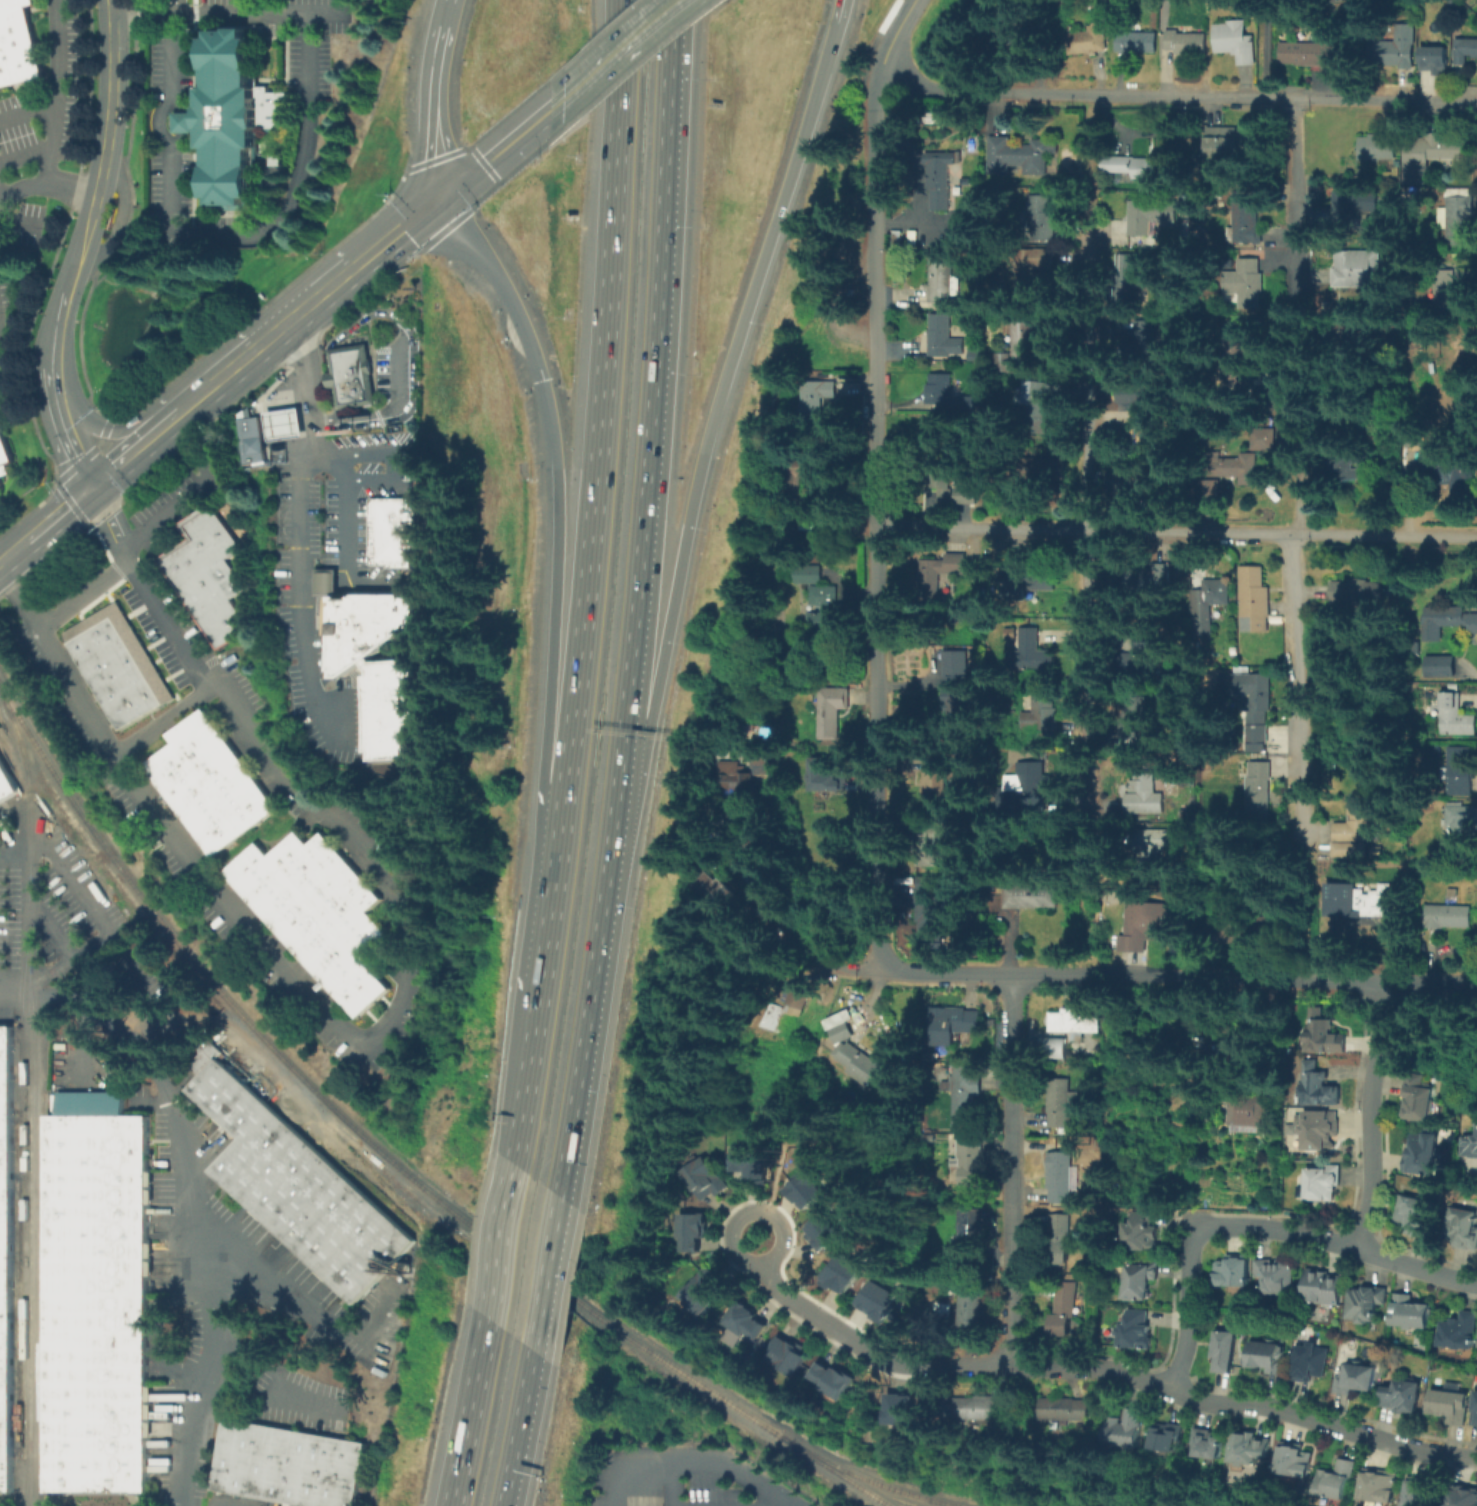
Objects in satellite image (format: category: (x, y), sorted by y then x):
building: (1336, 1)
road: (176, 6)
road: (445, 10)
road: (228, 13)
road: (837, 14)
road: (651, 23)
road: (898, 29)
building: (1090, 40)
building: (1007, 41)
building: (1188, 42)
building: (1238, 42)
road: (831, 43)
building: (1140, 44)
building: (18, 45)
road: (1269, 49)
road: (617, 52)
building: (1466, 52)
building: (1394, 54)
building: (1315, 56)
road: (174, 57)
building: (1435, 61)
road: (579, 84)
road: (1177, 96)
road: (180, 106)
road: (431, 109)
road: (28, 112)
road: (56, 116)
building: (234, 118)
building: (937, 120)
road: (161, 123)
parking lot: (164, 123)
road: (187, 123)
road: (180, 139)
building: (1232, 142)
building: (1379, 148)
building: (1431, 154)
road: (493, 155)
building: (1020, 158)
building: (1143, 167)
building: (941, 180)
road: (22, 188)
road: (1, 197)
traffic signals: (439, 197)
building: (1357, 205)
road: (95, 207)
road: (118, 215)
road: (285, 215)
building: (1153, 216)
building: (1044, 218)
building: (1460, 218)
building: (1249, 219)
road: (20, 223)
road: (397, 231)
building: (897, 242)
road: (1296, 244)
building: (1130, 269)
building: (1361, 269)
building: (1036, 271)
building: (944, 282)
building: (1248, 284)
building: (1454, 295)
road: (364, 320)
building: (972, 322)
road: (266, 337)
building: (1148, 338)
building: (945, 339)
building: (1356, 340)
building: (1020, 351)
building: (976, 357)
building: (1238, 364)
road: (308, 372)
building: (352, 376)
parking lot: (400, 376)
road: (335, 378)
building: (939, 388)
building: (816, 402)
building: (1139, 402)
building: (966, 404)
building: (1038, 407)
road: (399, 409)
road: (272, 413)
road: (341, 416)
road: (652, 417)
road: (294, 421)
building: (284, 423)
gas station: (284, 423)
road: (120, 428)
road: (286, 434)
building: (1415, 436)
building: (252, 441)
road: (705, 441)
road: (77, 448)
road: (135, 449)
building: (3, 454)
building: (1249, 458)
road: (1297, 460)
building: (1353, 468)
building: (1045, 471)
road: (339, 474)
building: (1449, 475)
building: (0, 482)
building: (793, 482)
building: (944, 484)
building: (0, 486)
building: (1128, 486)
traffic signals: (92, 487)
road: (190, 491)
road: (875, 511)
road: (58, 513)
road: (1085, 515)
traffic signals: (561, 522)
road: (109, 525)
road: (1176, 528)
building: (396, 533)
road: (12, 551)
building: (800, 573)
building: (209, 576)
building: (939, 578)
building: (1033, 579)
building: (1155, 581)
road: (309, 582)
road: (328, 583)
road: (590, 583)
road: (345, 584)
road: (300, 588)
building: (1356, 592)
building: (1256, 593)
road: (83, 596)
building: (1211, 602)
parking lot: (300, 603)
building: (824, 611)
building: (1448, 623)
building: (1015, 637)
road: (555, 647)
building: (1034, 655)
building: (1145, 661)
building: (378, 665)
building: (120, 666)
building: (1443, 668)
building: (959, 687)
road: (1295, 691)
building: (1257, 704)
building: (832, 713)
building: (1044, 715)
building: (1458, 716)
building: (1138, 719)
road: (166, 722)
building: (768, 757)
building: (1463, 773)
building: (828, 778)
building: (938, 778)
building: (742, 782)
building: (7, 784)
building: (212, 786)
building: (1258, 787)
building: (1029, 788)
building: (1147, 798)
building: (1462, 819)
building: (1355, 835)
building: (935, 844)
building: (1151, 845)
road: (70, 876)
building: (722, 896)
building: (1032, 898)
building: (1363, 902)
building: (930, 906)
building: (320, 914)
road: (1296, 914)
building: (1450, 918)
building: (1235, 921)
building: (1149, 925)
road: (822, 944)
railway: (184, 951)
road: (863, 972)
road: (1100, 973)
road: (1395, 981)
road: (149, 995)
building: (800, 997)
road: (589, 1016)
building: (779, 1020)
building: (1076, 1023)
building: (954, 1024)
building: (1321, 1036)
road: (357, 1039)
building: (1056, 1048)
road: (85, 1049)
building: (851, 1052)
road: (191, 1079)
building: (1318, 1088)
building: (967, 1094)
railway: (29, 1097)
building: (1421, 1100)
building: (1062, 1103)
building: (1249, 1110)
road: (1371, 1114)
building: (1292, 1128)
building: (1320, 1133)
building: (1470, 1147)
building: (1424, 1154)
building: (749, 1162)
building: (970, 1162)
road: (29, 1163)
road: (1014, 1169)
building: (1062, 1174)
building: (706, 1178)
building: (1323, 1185)
building: (804, 1188)
building: (302, 1189)
road: (193, 1193)
railway: (17, 1196)
building: (1416, 1216)
building: (822, 1230)
building: (692, 1231)
building: (1463, 1231)
building: (1142, 1232)
building: (969, 1234)
railway: (39, 1235)
road: (1334, 1240)
road: (500, 1241)
building: (1055, 1241)
road: (729, 1248)
building: (6, 1255)
railway: (530, 1270)
building: (841, 1272)
building: (1234, 1272)
road: (547, 1275)
building: (1277, 1277)
building: (1143, 1283)
building: (1325, 1290)
building: (704, 1292)
building: (98, 1297)
building: (875, 1301)
road: (306, 1302)
building: (1368, 1304)
building: (1066, 1307)
road: (1190, 1311)
building: (971, 1314)
building: (1412, 1314)
road: (823, 1319)
building: (749, 1322)
building: (1140, 1331)
building: (1460, 1331)
road: (155, 1334)
building: (1227, 1352)
building: (788, 1354)
building: (1271, 1358)
building: (1313, 1363)
road: (256, 1364)
road: (999, 1366)
building: (835, 1377)
building: (1359, 1380)
road: (270, 1396)
building: (1406, 1396)
building: (1451, 1406)
railway: (737, 1407)
road: (1291, 1407)
building: (899, 1408)
building: (978, 1408)
building: (1068, 1409)
road: (468, 1412)
building: (1475, 1416)
road: (518, 1429)
building: (1131, 1431)
building: (1175, 1439)
building: (1216, 1445)
building: (1257, 1448)
road: (689, 1460)
building: (1301, 1462)
building: (289, 1466)
building: (1342, 1479)
road: (668, 1483)
railway: (854, 1483)
railway: (32, 1484)
railway: (891, 1487)
building: (1385, 1488)
building: (1426, 1493)
building: (1465, 1498)

